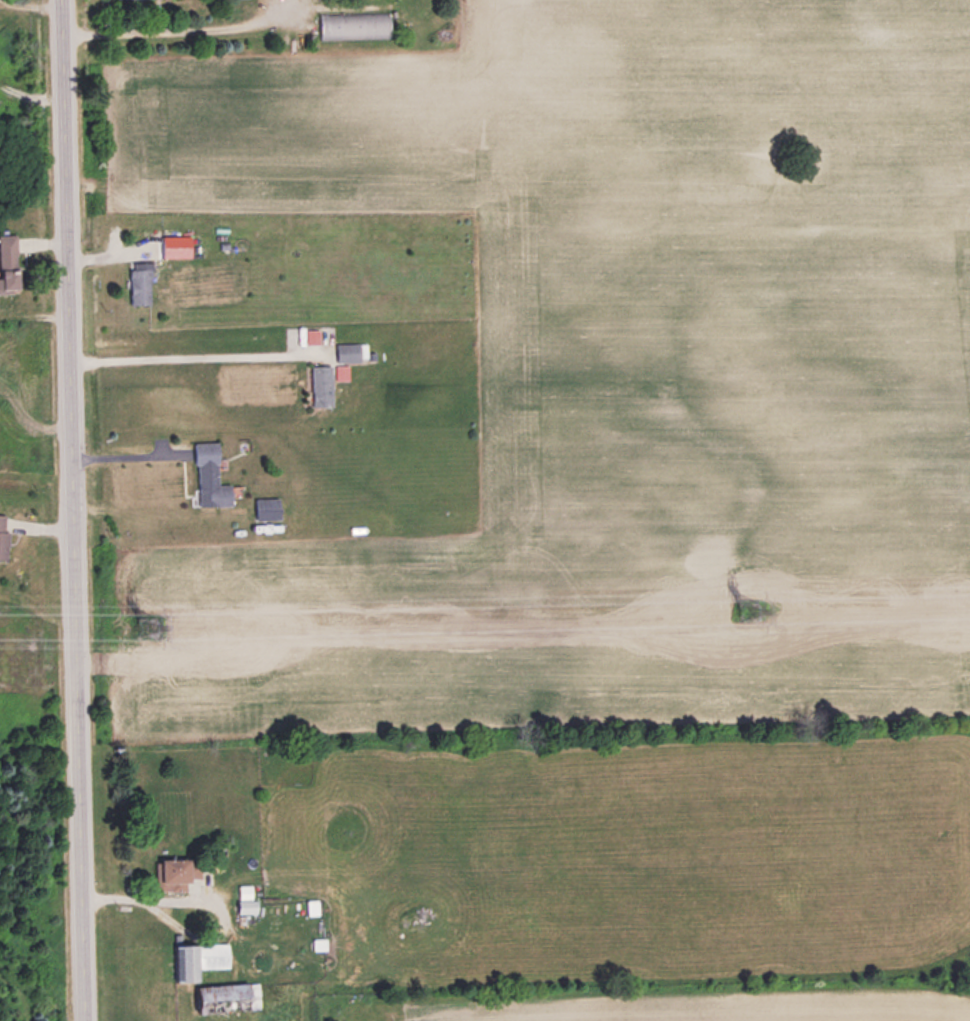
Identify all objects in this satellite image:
building: (360, 23)
road: (180, 28)
building: (9, 263)
building: (141, 282)
road: (181, 347)
building: (323, 385)
building: (211, 476)
building: (269, 508)
road: (72, 510)
building: (4, 535)
power tower: (751, 611)
power tower: (148, 626)
building: (177, 873)
building: (247, 899)
building: (201, 959)
building: (231, 997)

